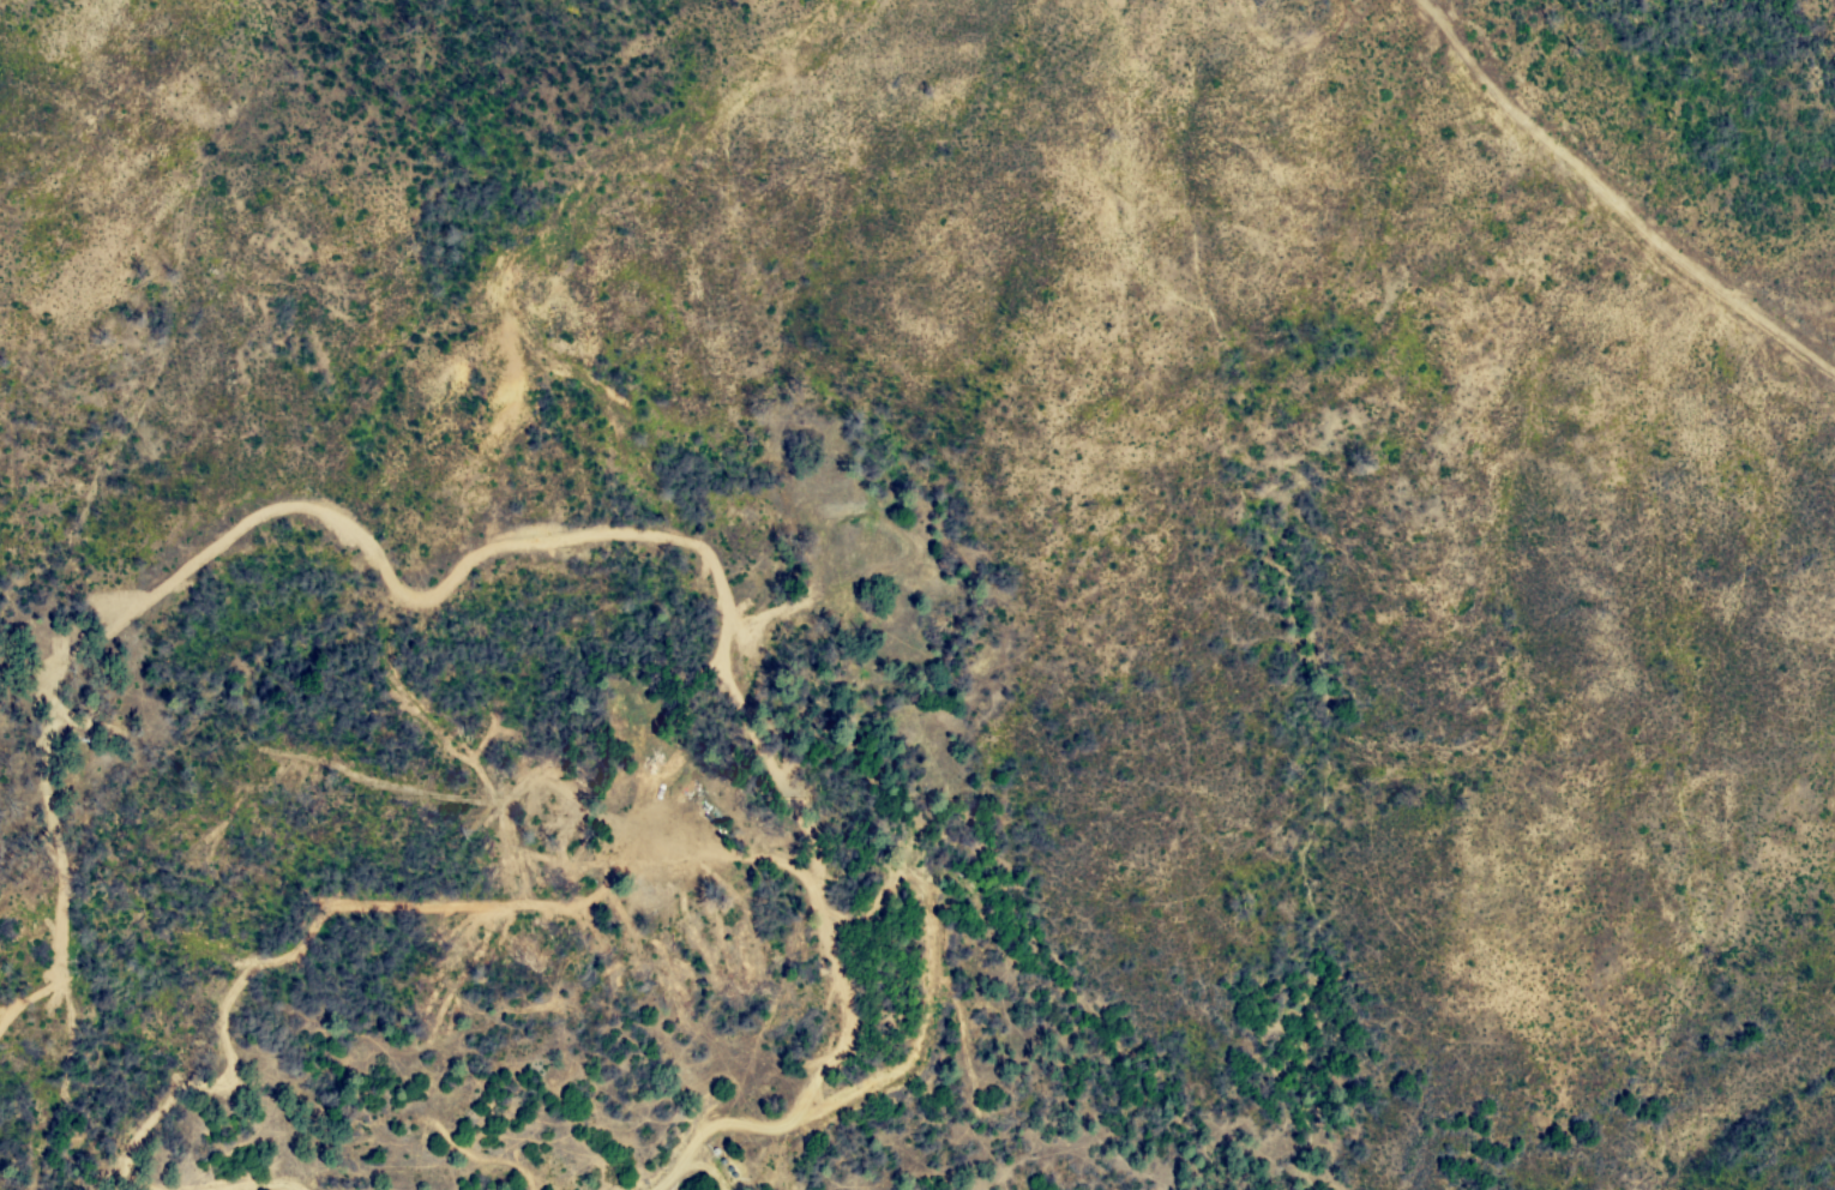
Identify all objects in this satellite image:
road: (1613, 198)
road: (669, 494)

